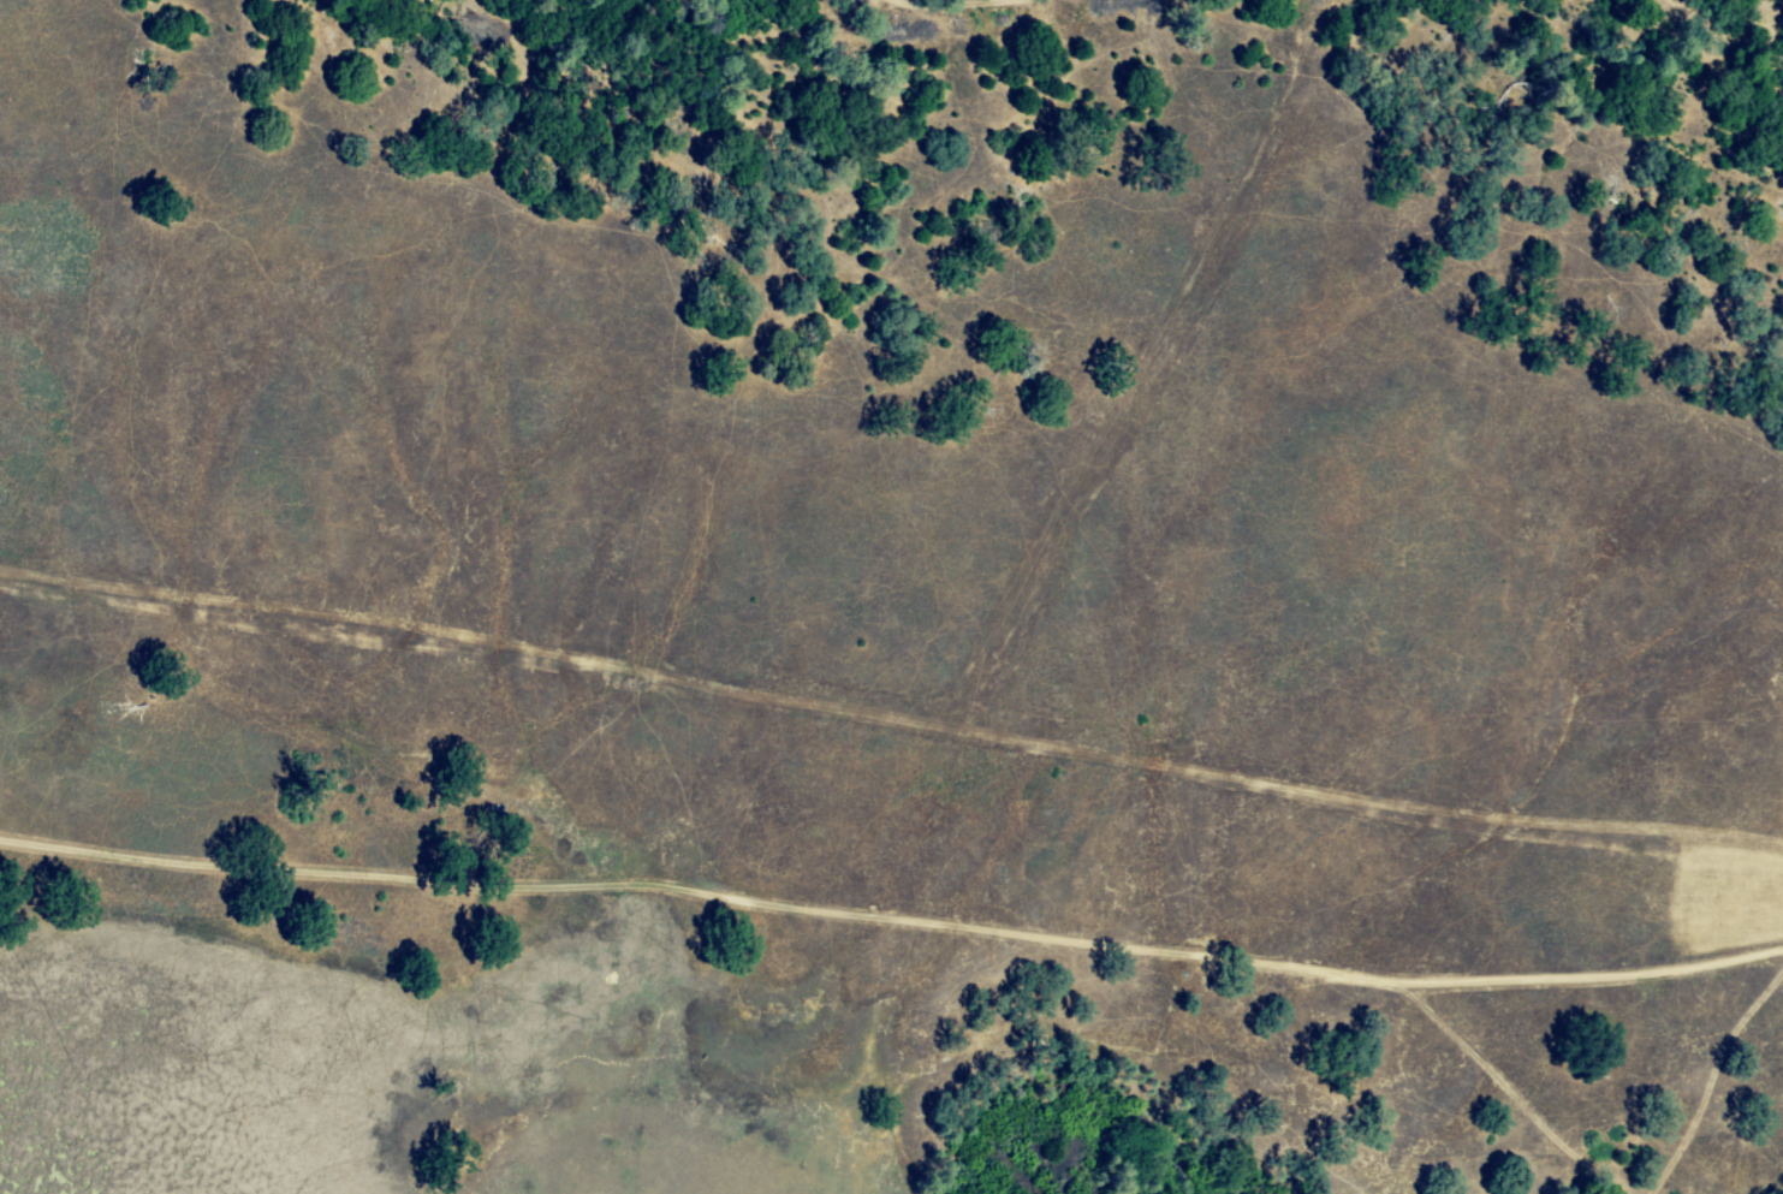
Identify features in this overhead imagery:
road: (967, 8)
road: (891, 925)

